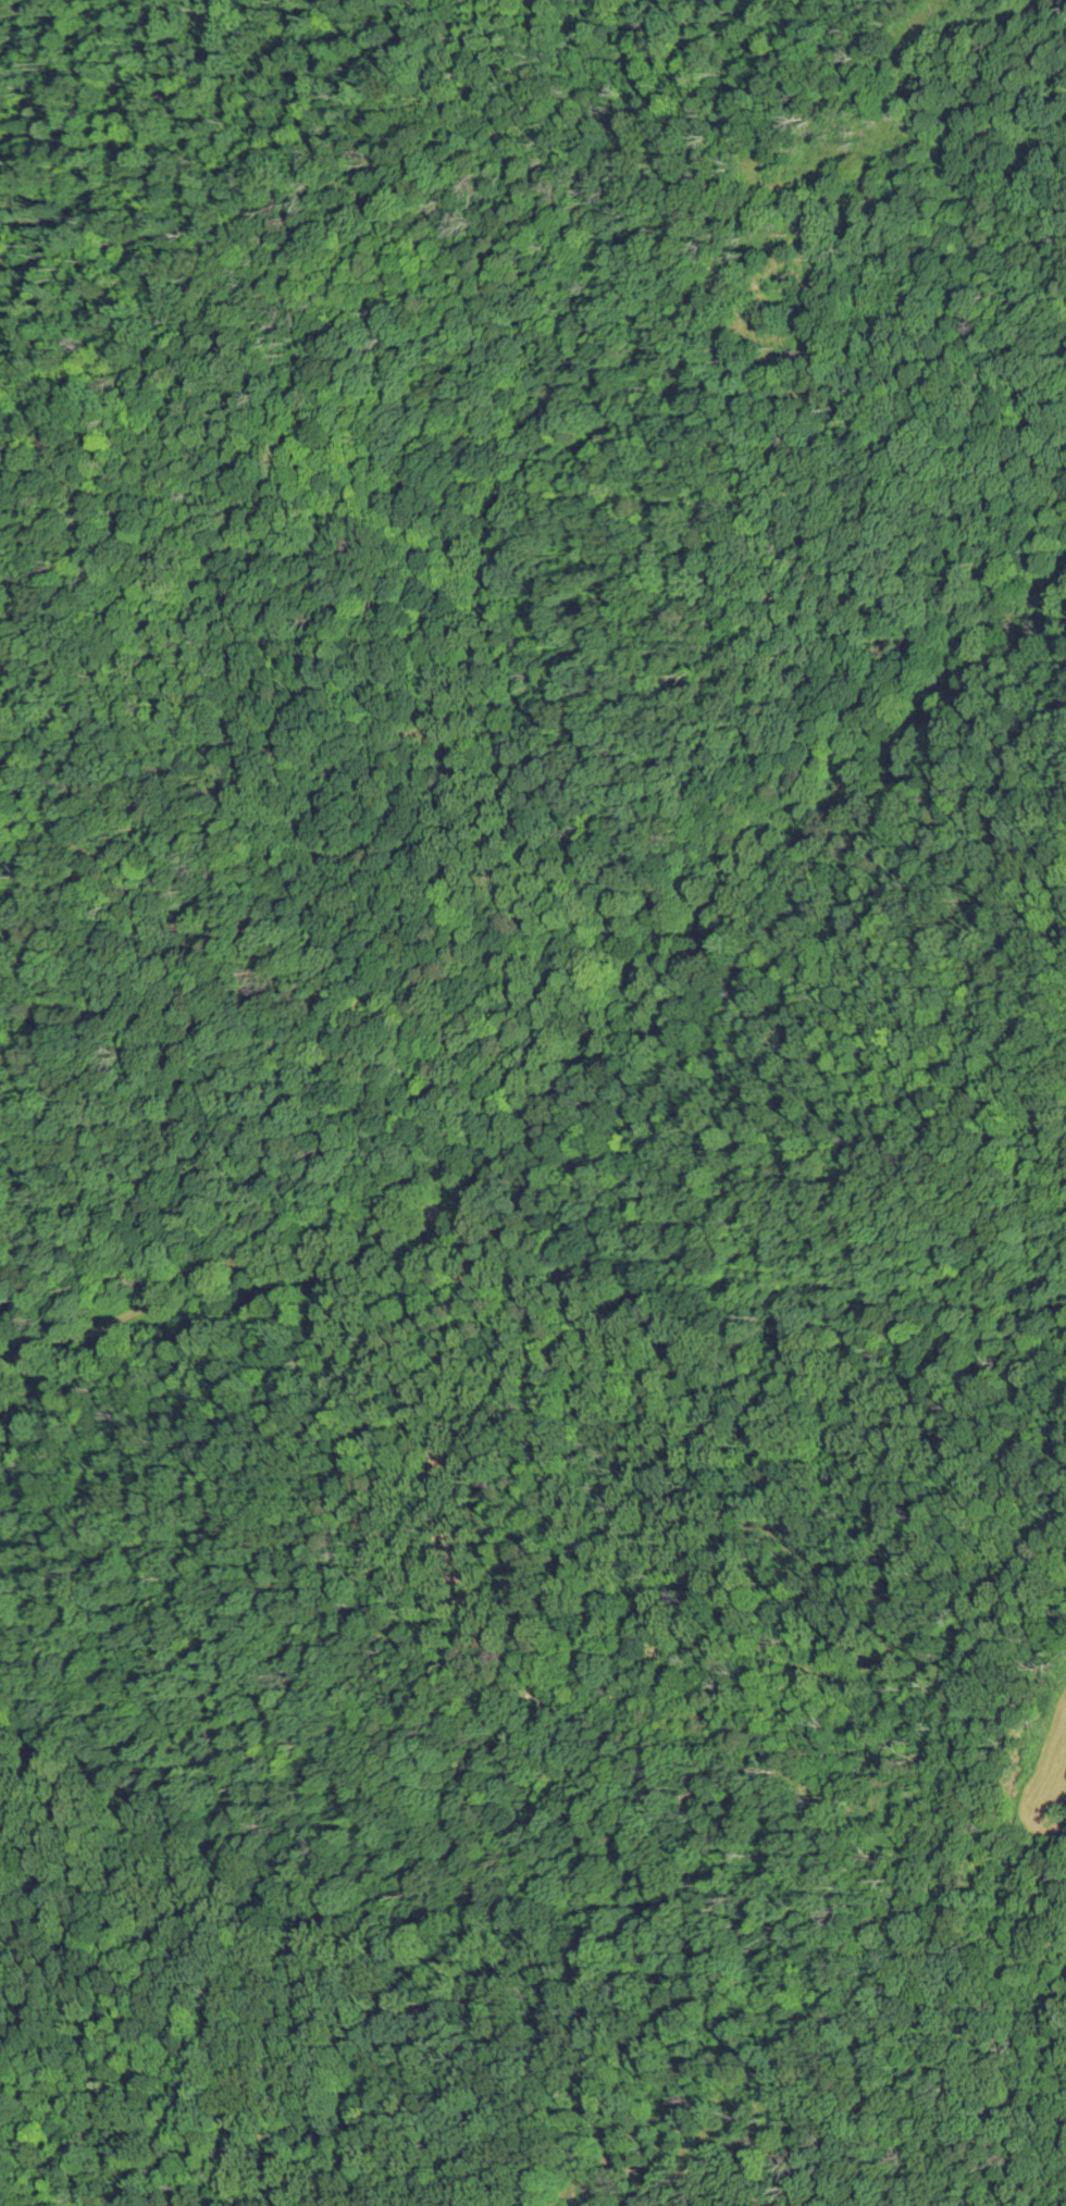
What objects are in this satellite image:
road: (39, 2190)

